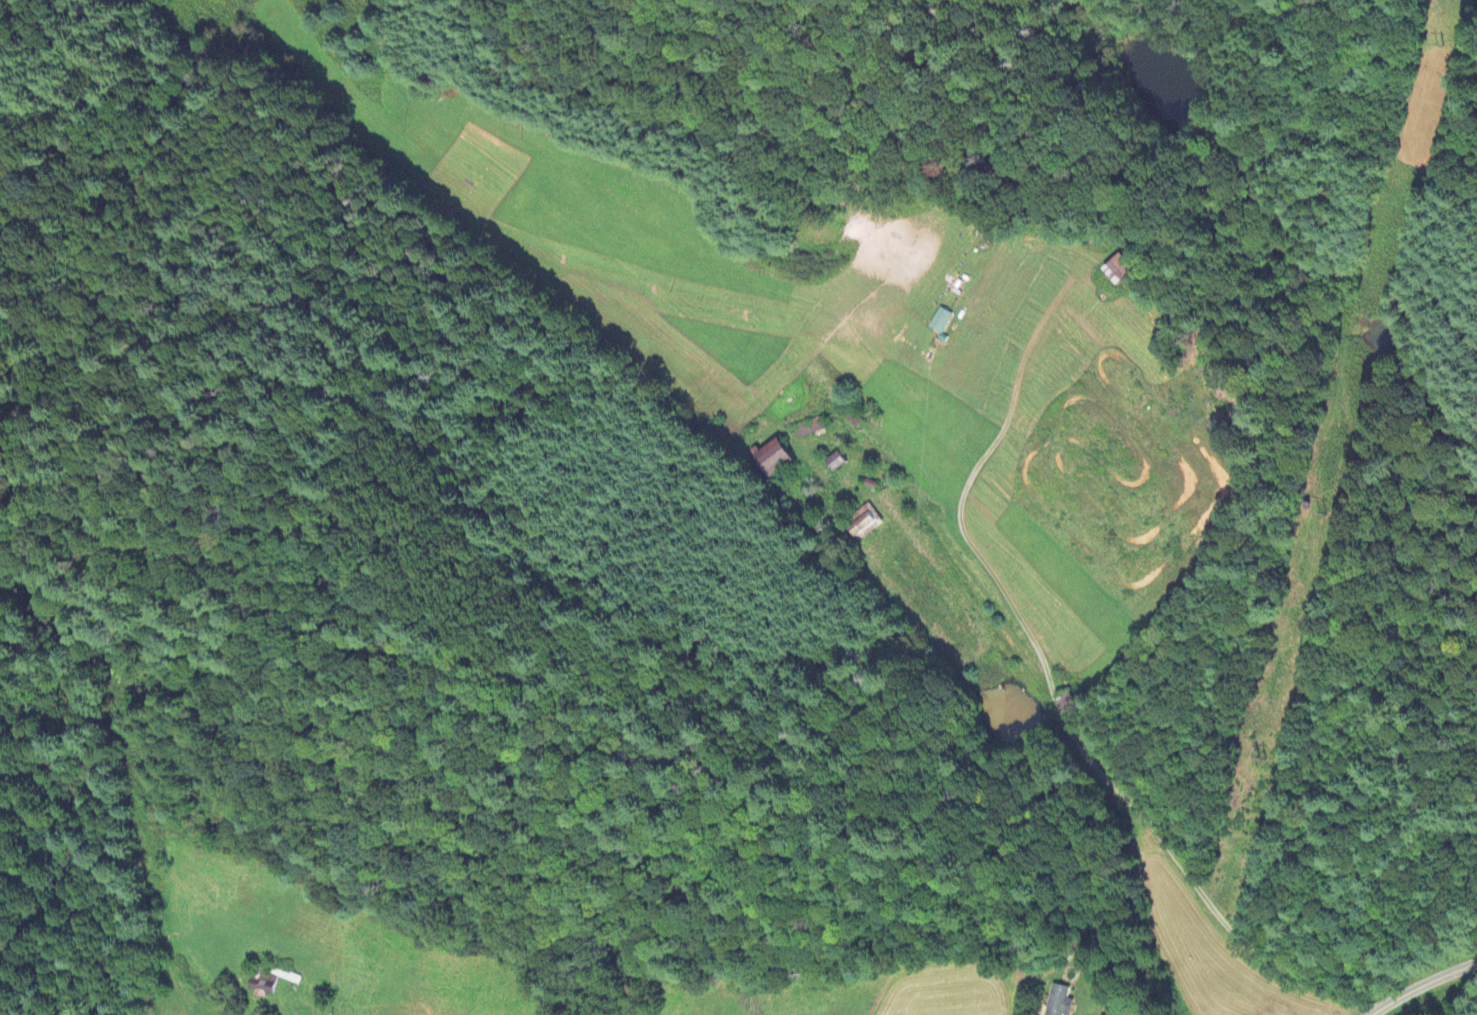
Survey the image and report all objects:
building: (1119, 269)
building: (939, 321)
building: (808, 427)
building: (769, 459)
building: (865, 523)
road: (960, 570)
road: (1424, 987)
building: (1057, 1001)
road: (1371, 1013)

